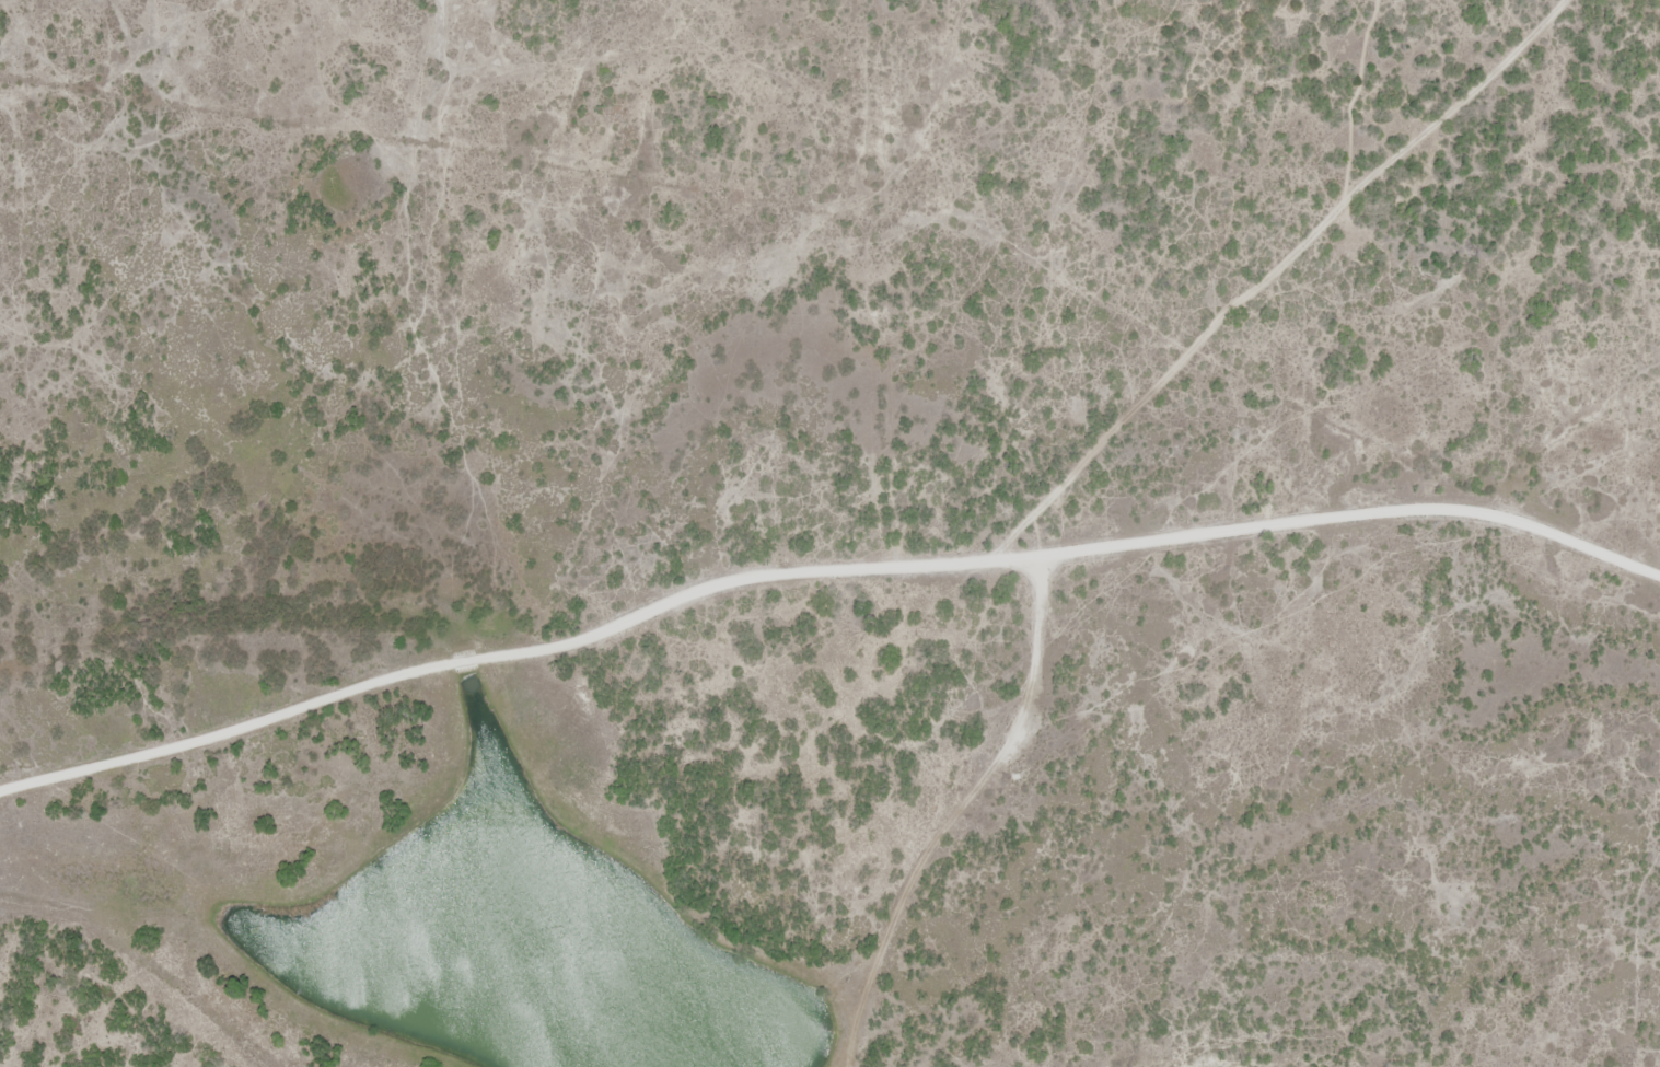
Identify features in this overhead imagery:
road: (1297, 269)
road: (815, 572)

